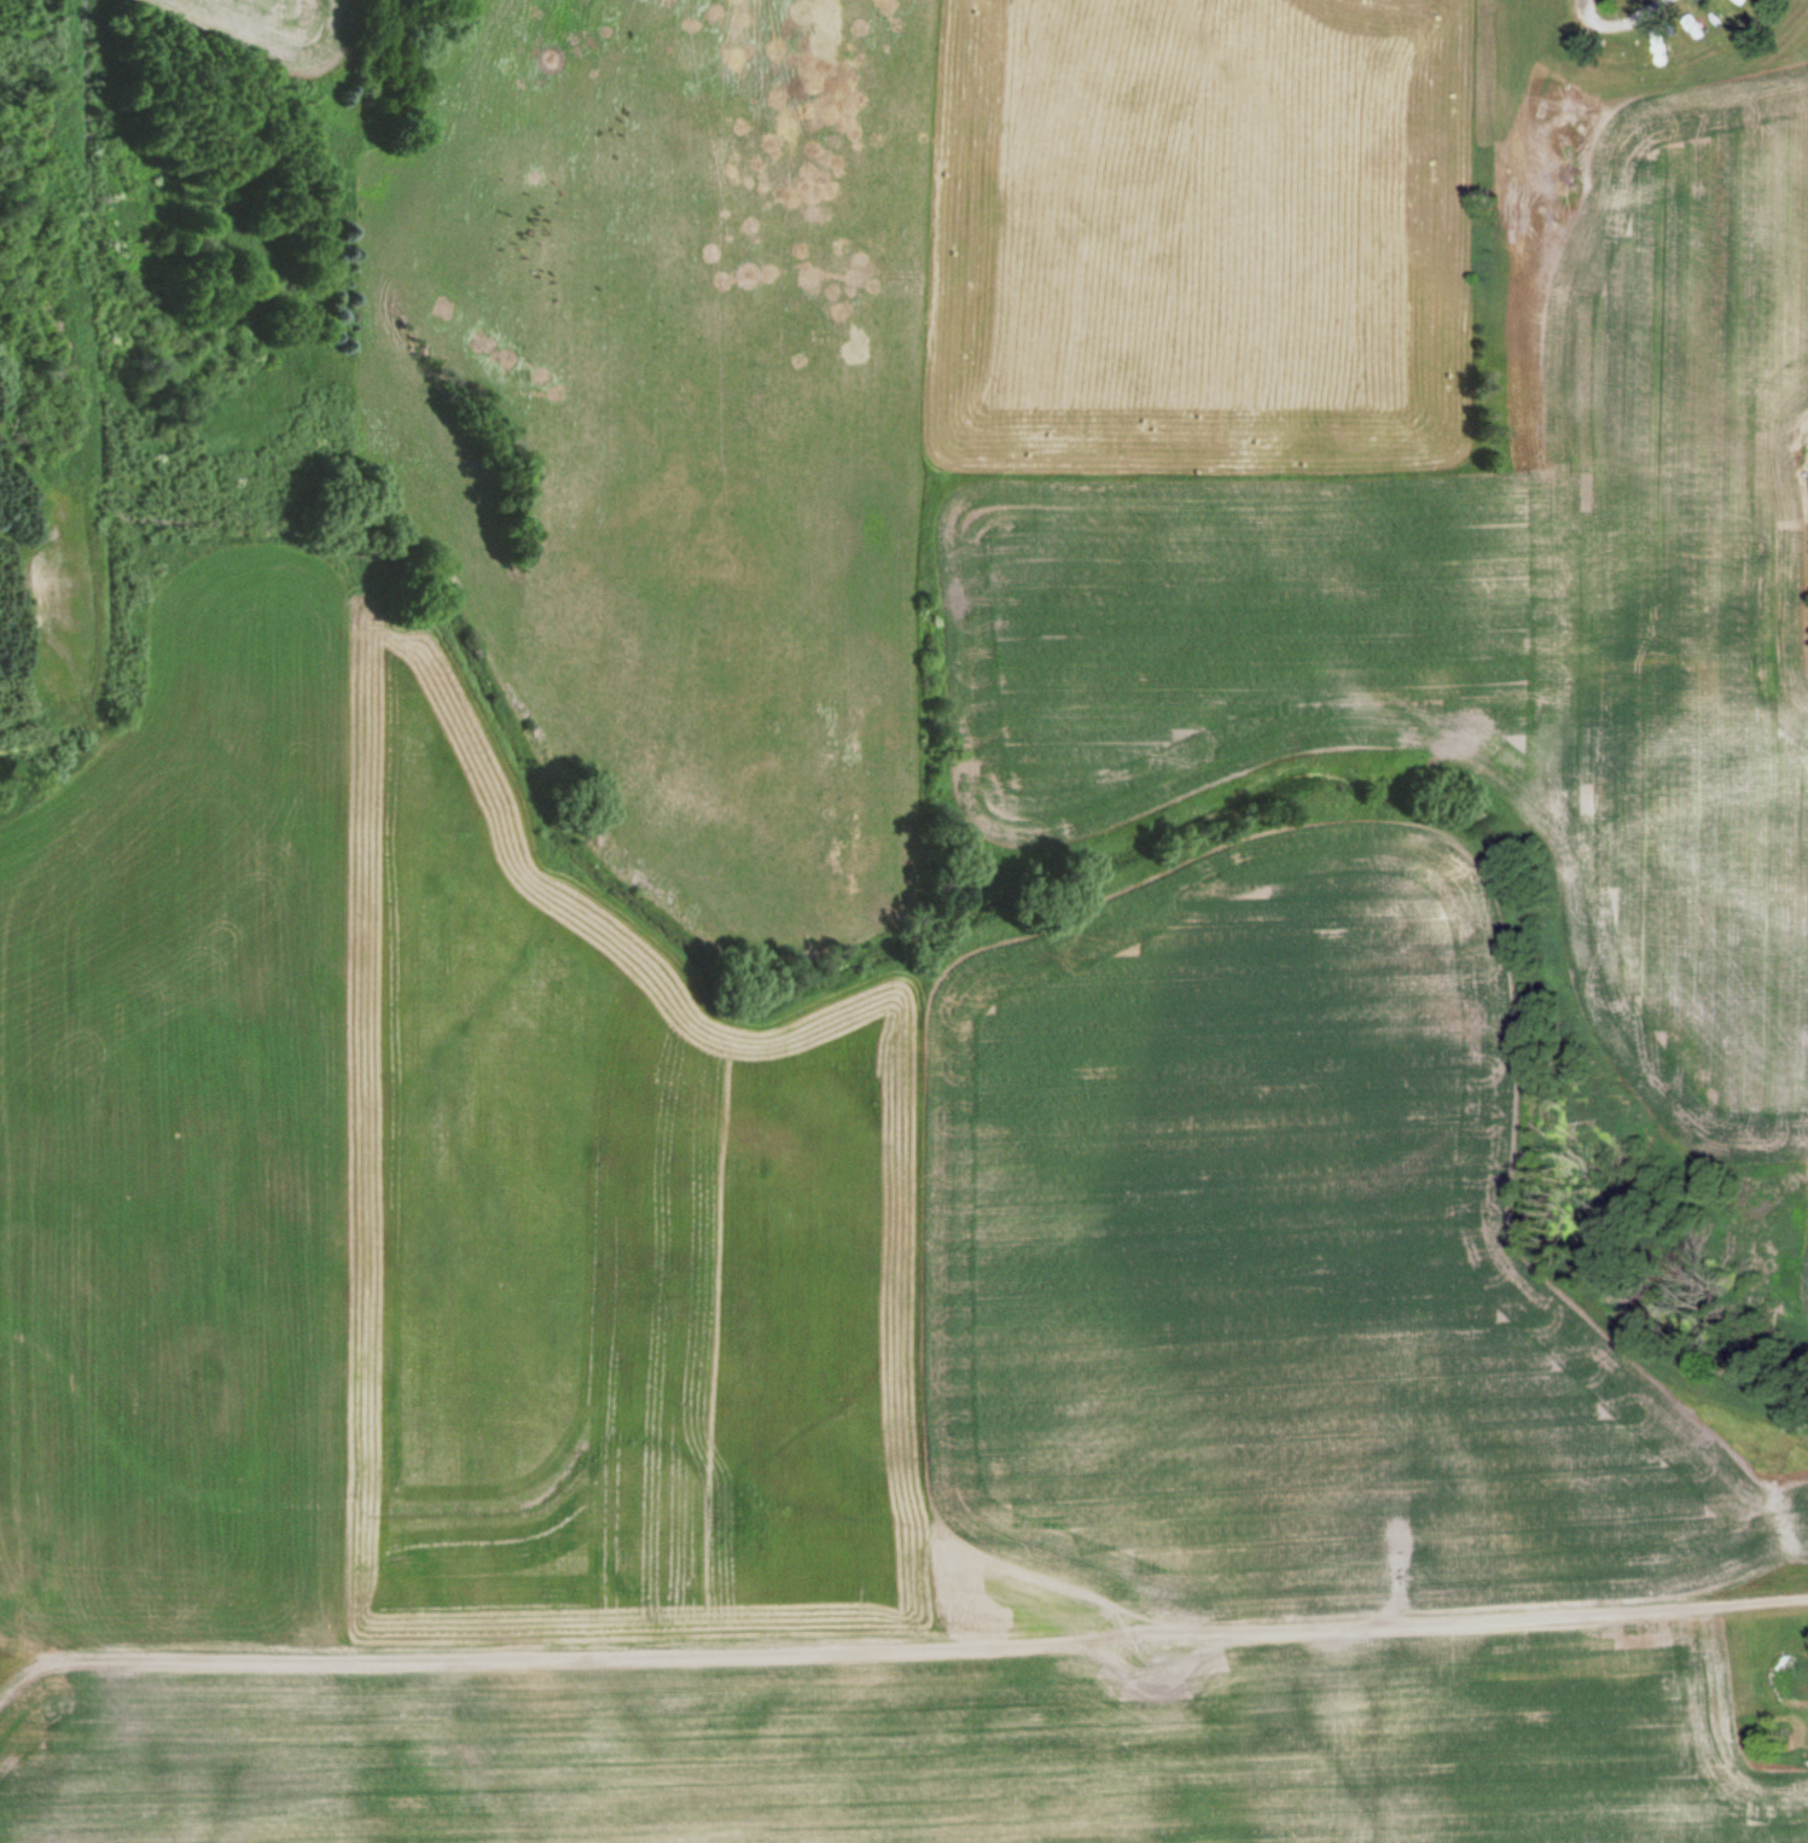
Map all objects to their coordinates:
road: (1616, 27)

